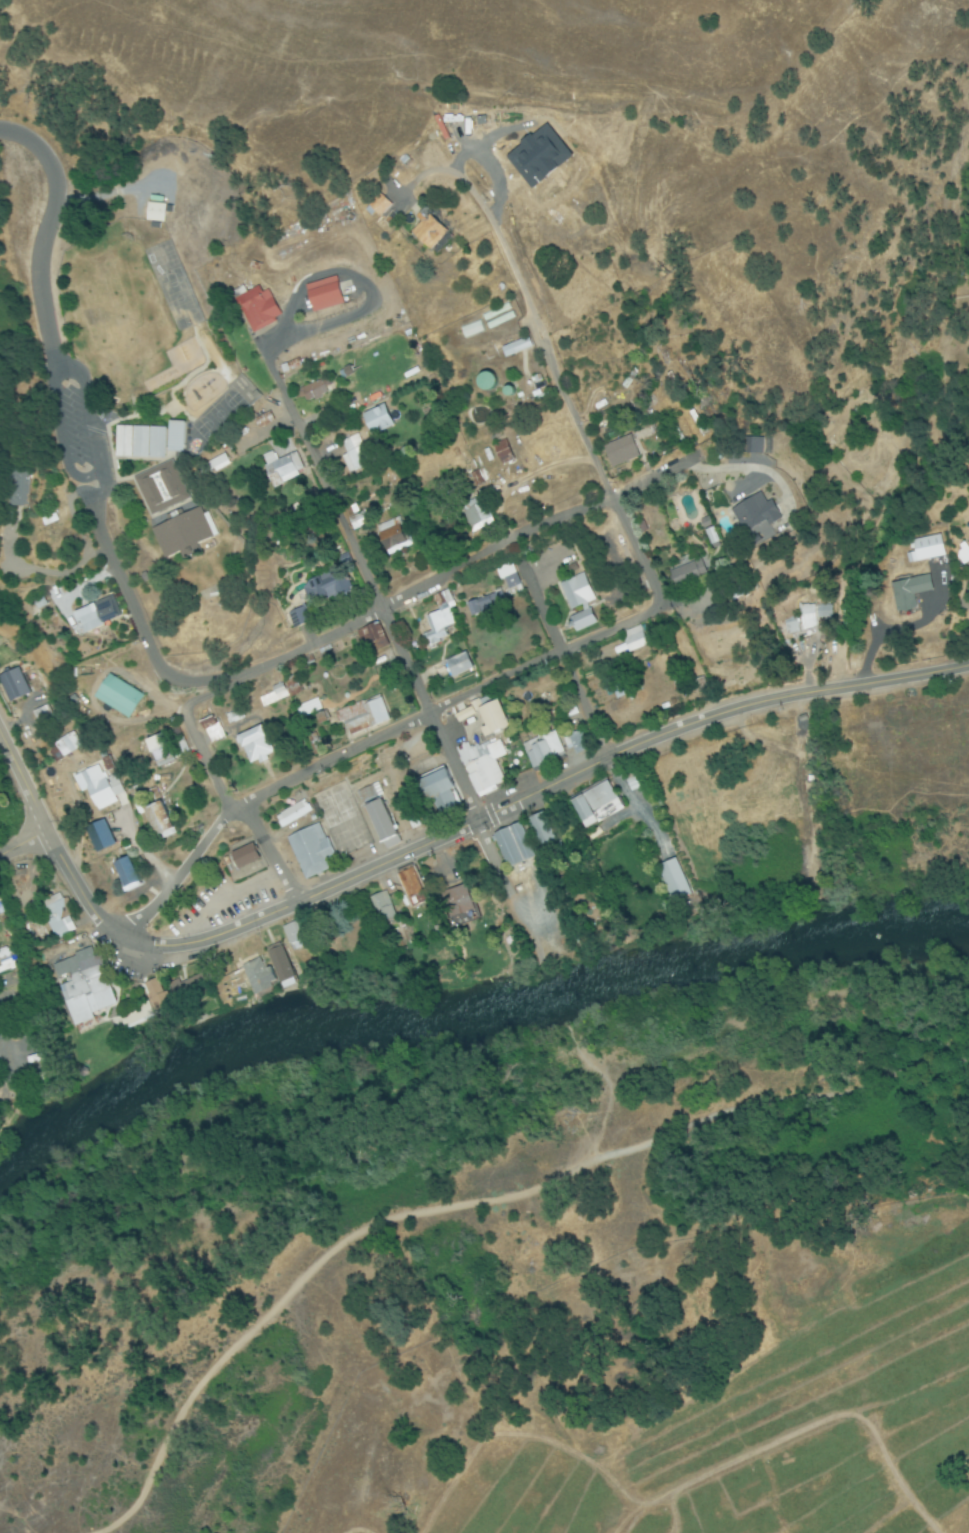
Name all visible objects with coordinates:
building: (153, 213)
road: (45, 224)
building: (429, 230)
road: (508, 255)
building: (325, 295)
building: (261, 309)
building: (500, 317)
building: (474, 331)
building: (516, 348)
road: (56, 356)
building: (486, 381)
building: (316, 391)
building: (537, 395)
road: (58, 421)
building: (378, 421)
road: (93, 429)
road: (303, 430)
building: (147, 441)
building: (751, 446)
building: (621, 452)
building: (356, 455)
building: (215, 465)
building: (283, 469)
road: (751, 469)
road: (89, 476)
building: (17, 487)
building: (158, 488)
road: (617, 502)
building: (754, 513)
building: (478, 514)
road: (75, 521)
road: (300, 524)
building: (179, 533)
building: (391, 536)
road: (42, 571)
building: (687, 574)
building: (511, 577)
road: (439, 581)
building: (328, 587)
building: (906, 592)
building: (574, 594)
road: (130, 598)
building: (481, 606)
building: (98, 615)
building: (812, 618)
building: (582, 621)
building: (439, 626)
building: (372, 634)
building: (634, 640)
road: (561, 651)
building: (458, 666)
building: (120, 696)
building: (275, 696)
building: (307, 709)
road: (428, 711)
building: (362, 717)
building: (237, 718)
building: (492, 718)
building: (214, 730)
road: (192, 733)
road: (369, 741)
building: (579, 742)
building: (256, 744)
building: (69, 745)
building: (543, 750)
building: (161, 752)
building: (485, 769)
road: (218, 786)
building: (99, 788)
road: (538, 790)
building: (438, 793)
building: (595, 804)
building: (379, 820)
building: (156, 821)
building: (540, 829)
road: (22, 842)
building: (512, 845)
road: (52, 847)
building: (311, 851)
road: (268, 852)
building: (243, 857)
building: (125, 874)
building: (409, 882)
building: (455, 902)
building: (382, 907)
building: (42, 914)
building: (0, 935)
building: (294, 936)
building: (278, 963)
building: (256, 976)
building: (82, 982)
building: (187, 988)
building: (132, 1016)
river: (467, 1038)
road: (4, 1052)
road: (475, 1205)

